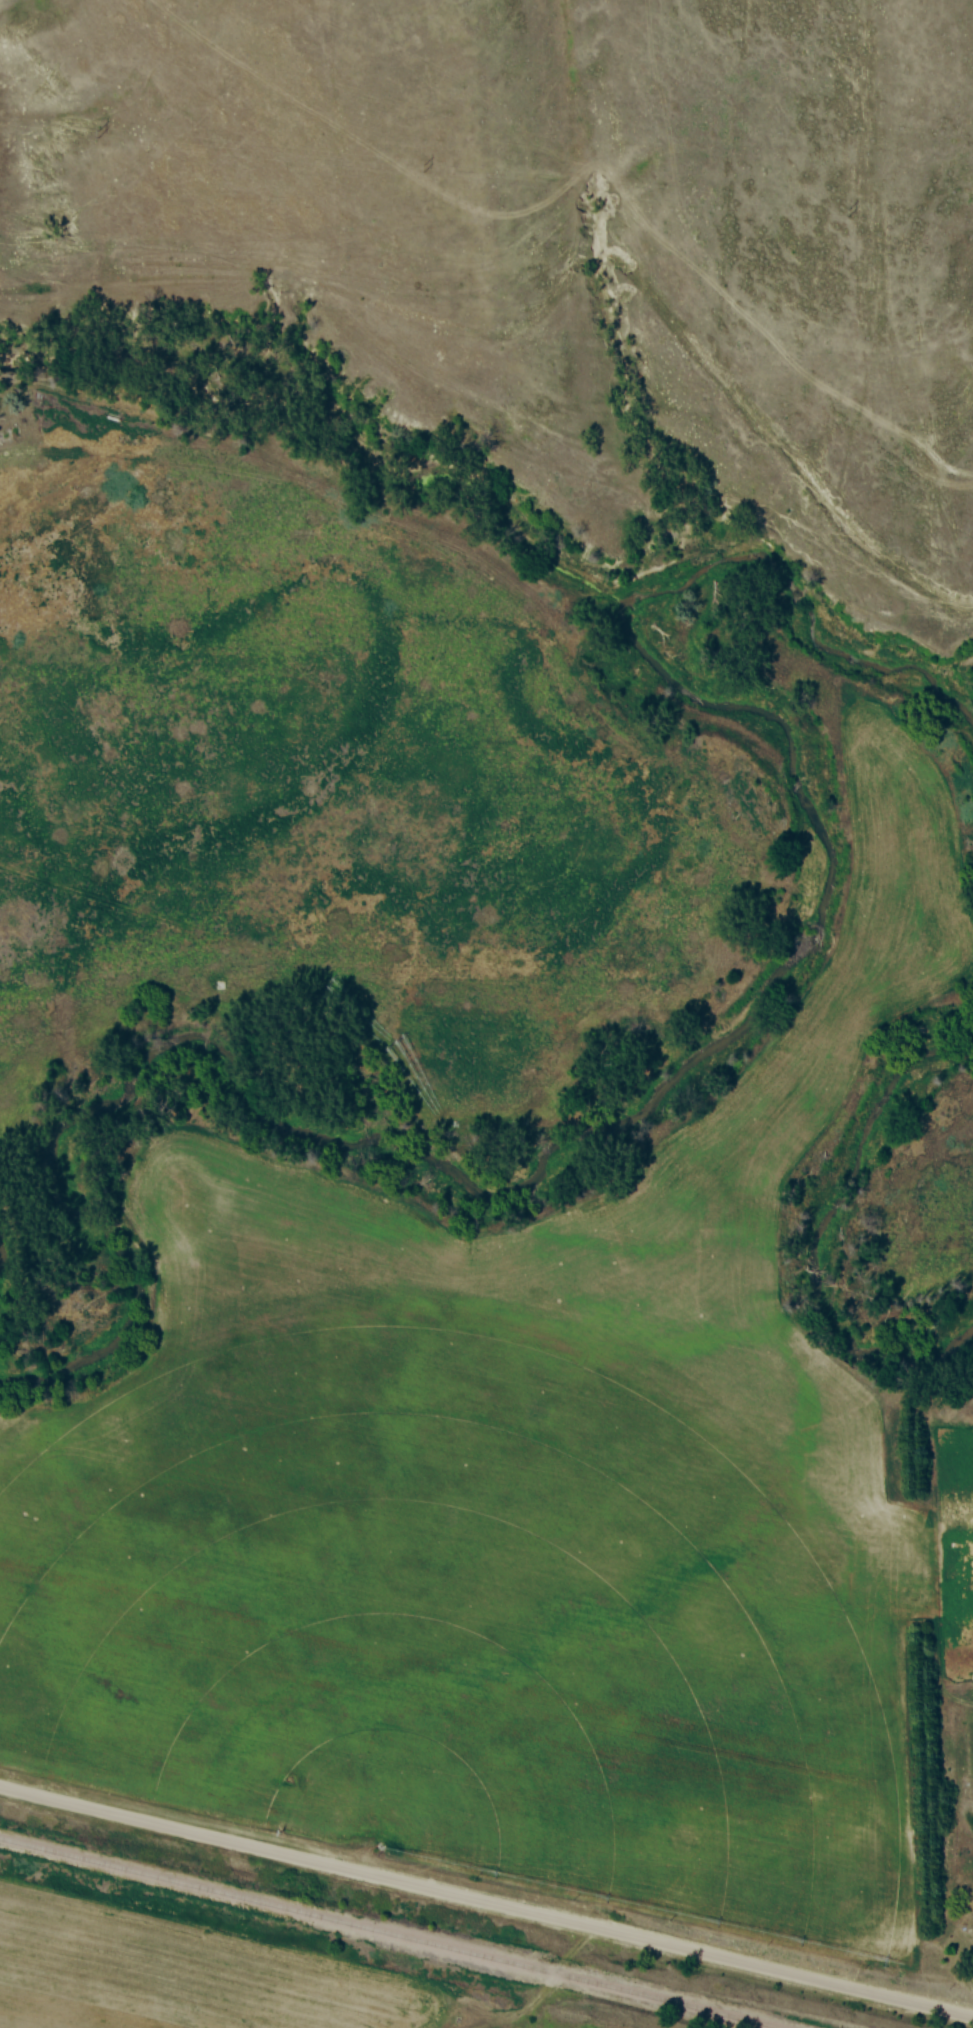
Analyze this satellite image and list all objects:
road: (486, 1902)
railway: (389, 1932)
crop: (178, 1975)

